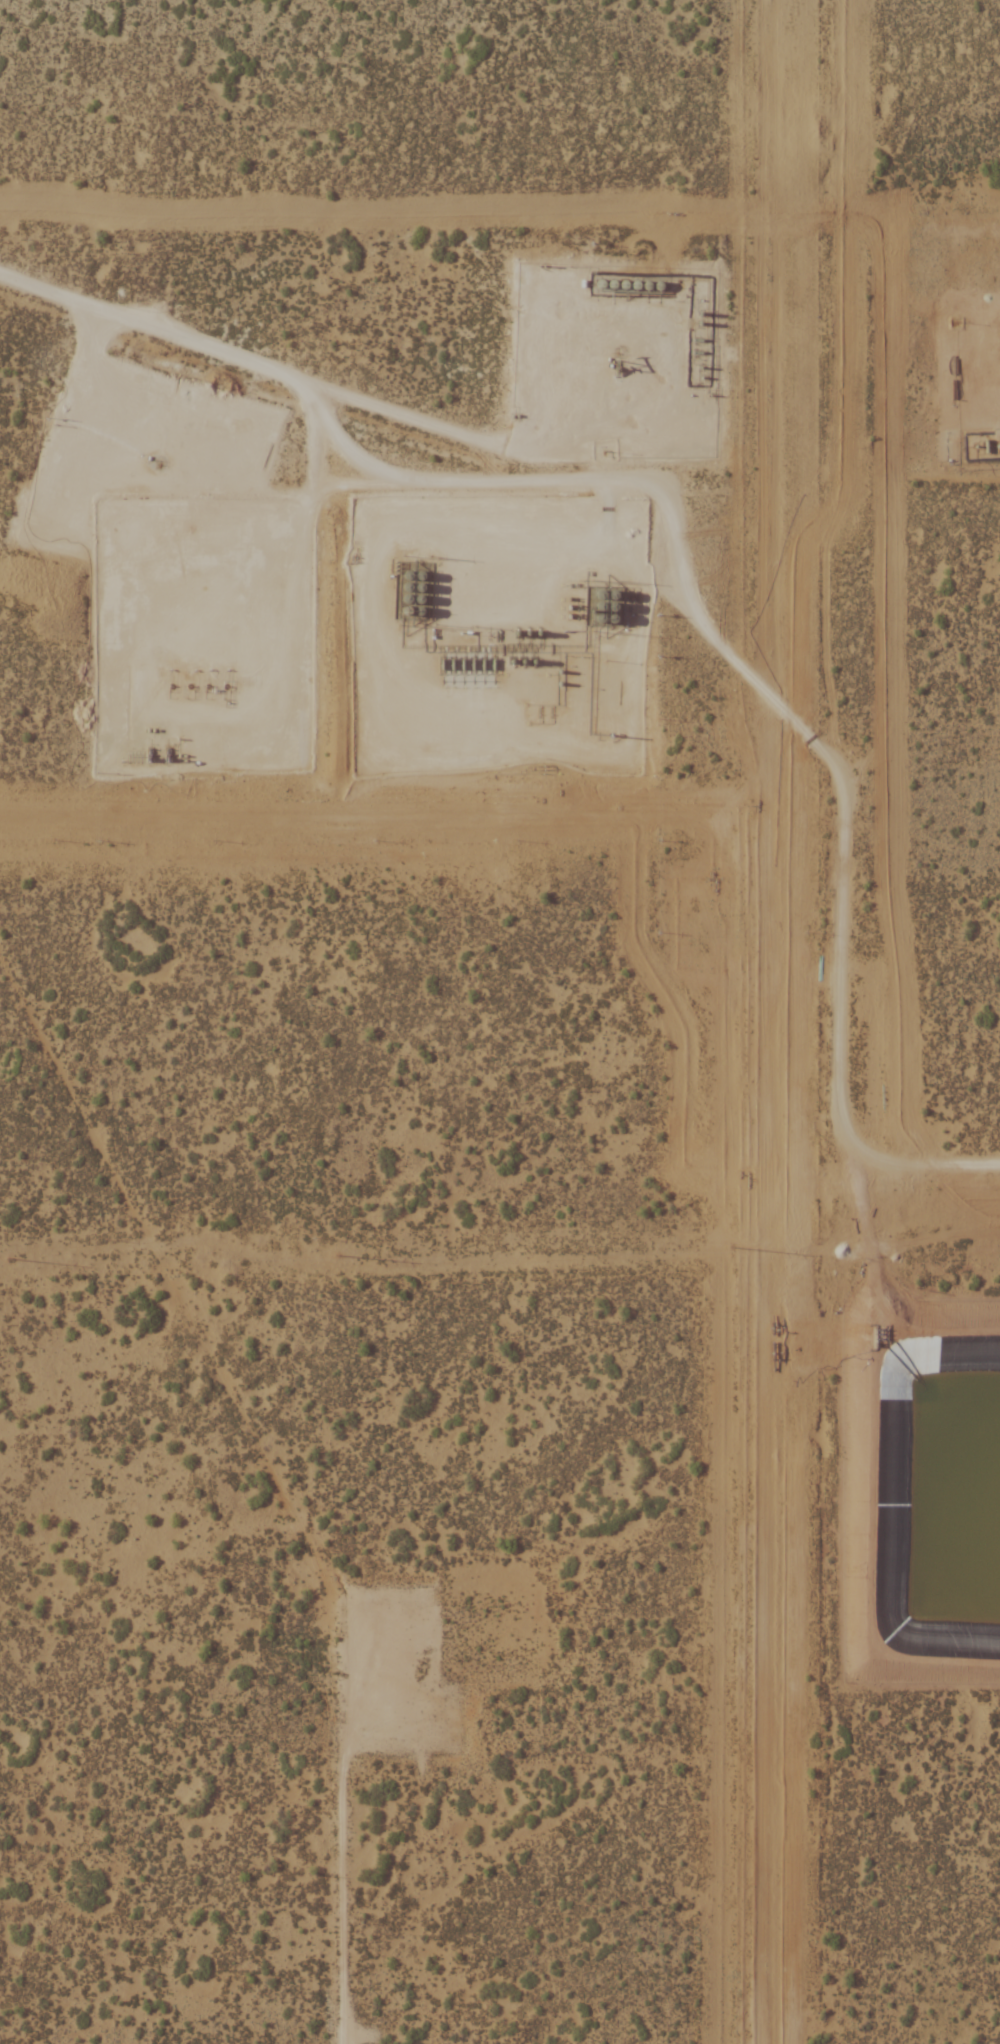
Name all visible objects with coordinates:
road: (267, 360)
petroleum well: (614, 366)
petroleum well: (158, 464)
road: (770, 578)
petroleum well: (172, 686)
petroleum well: (190, 686)
petroleum well: (208, 686)
petroleum well: (226, 686)
road: (859, 801)
road: (367, 1840)

